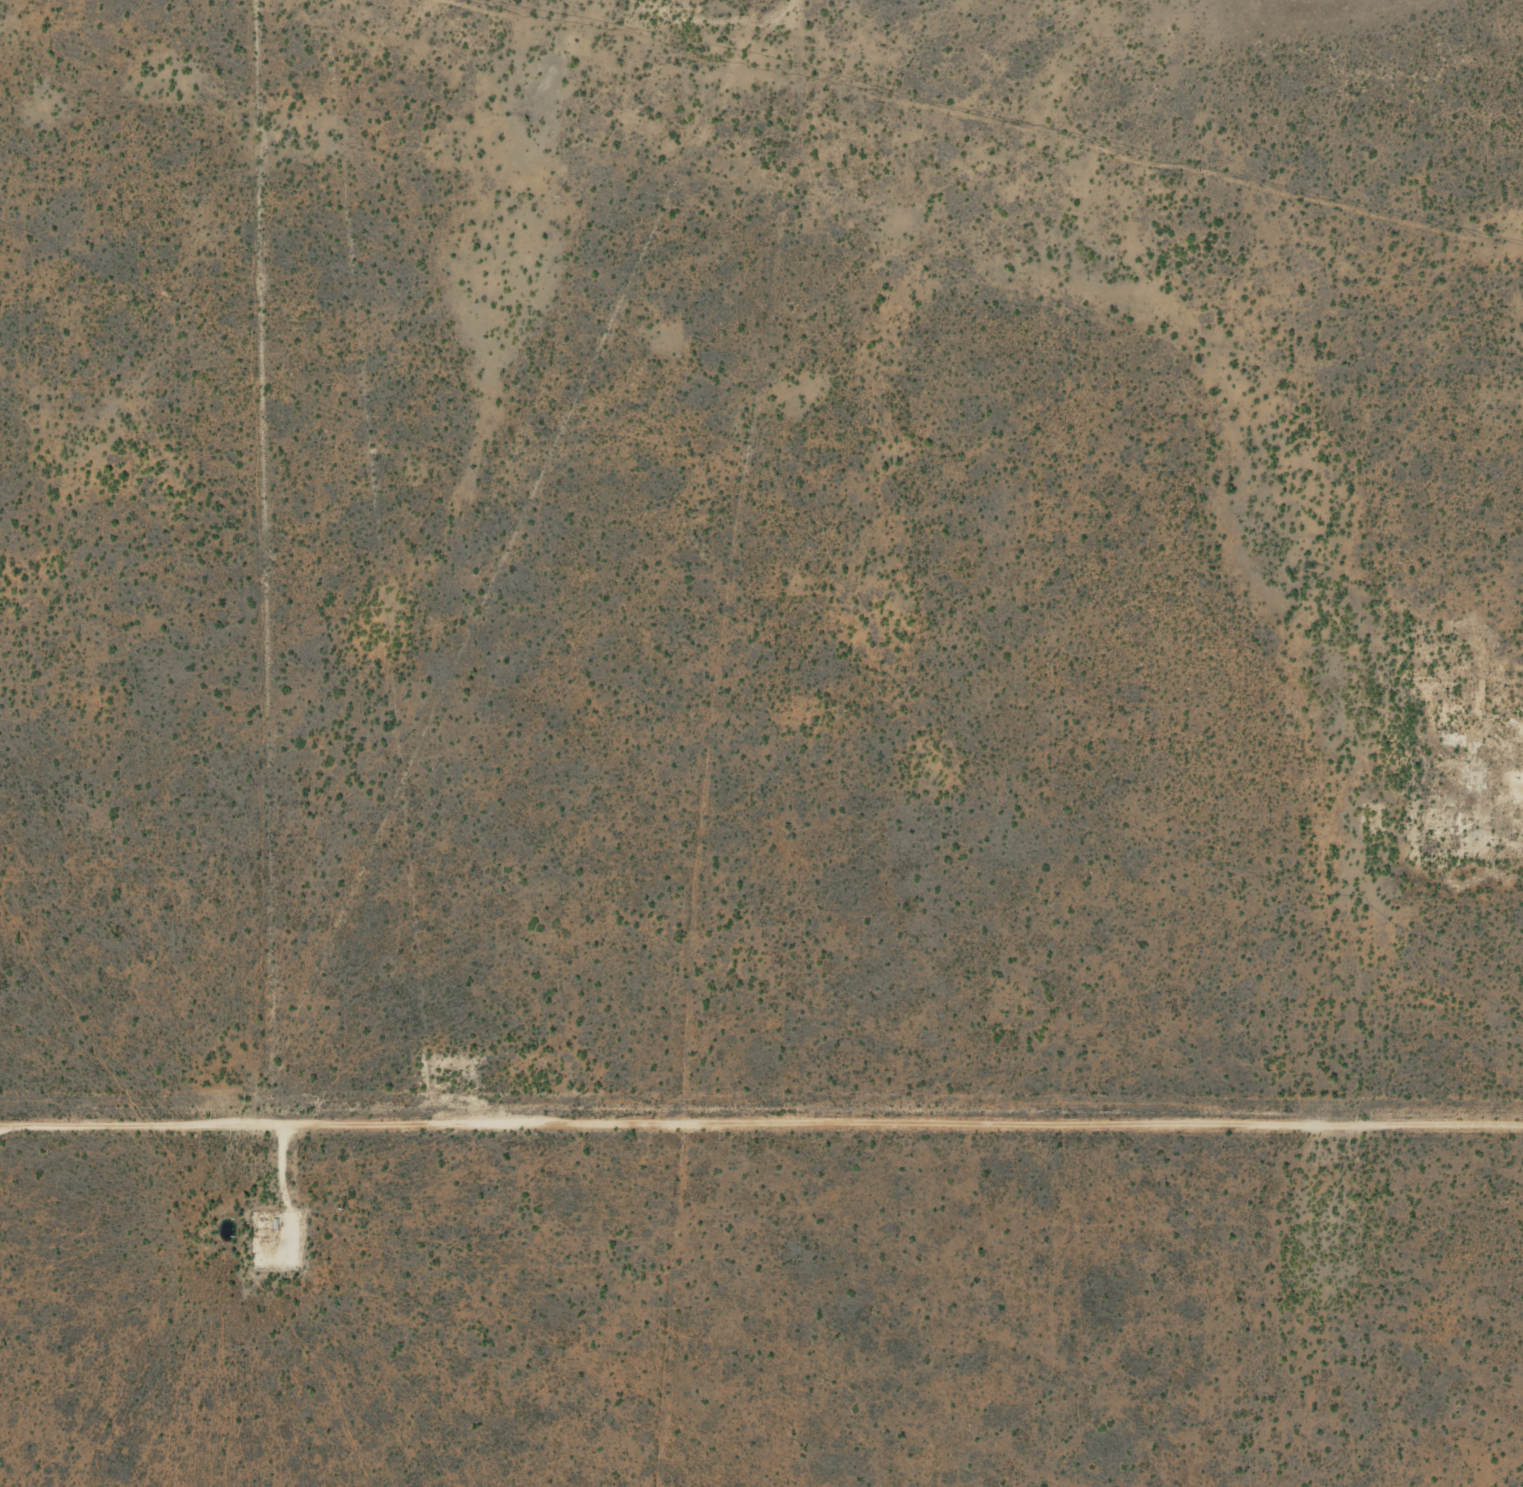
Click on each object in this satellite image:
road: (717, 743)
road: (761, 1103)

